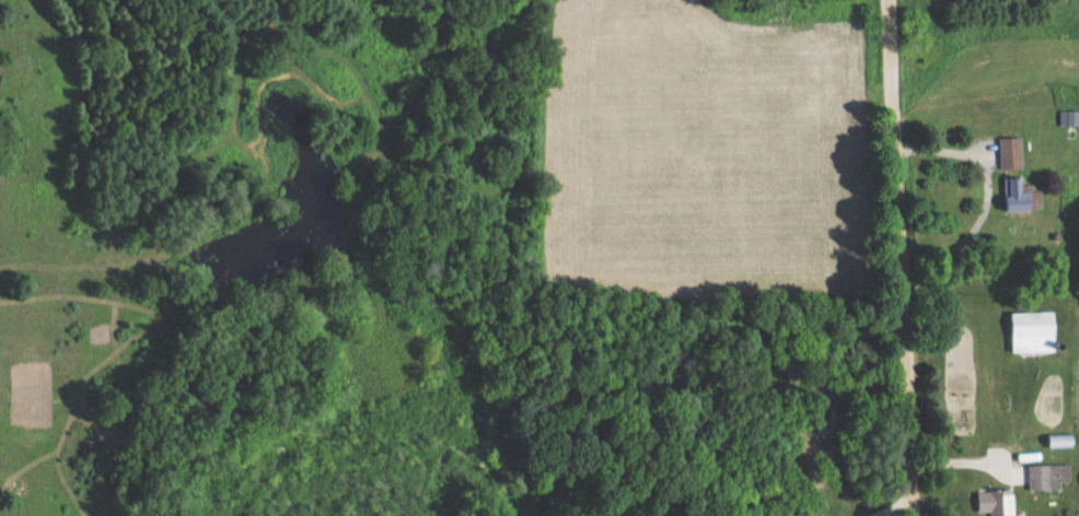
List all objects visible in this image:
building: (1072, 118)
building: (1012, 153)
building: (1025, 195)
road: (987, 199)
road: (904, 257)
building: (1033, 332)
building: (1061, 441)
building: (1048, 477)
building: (997, 503)
road: (893, 506)

